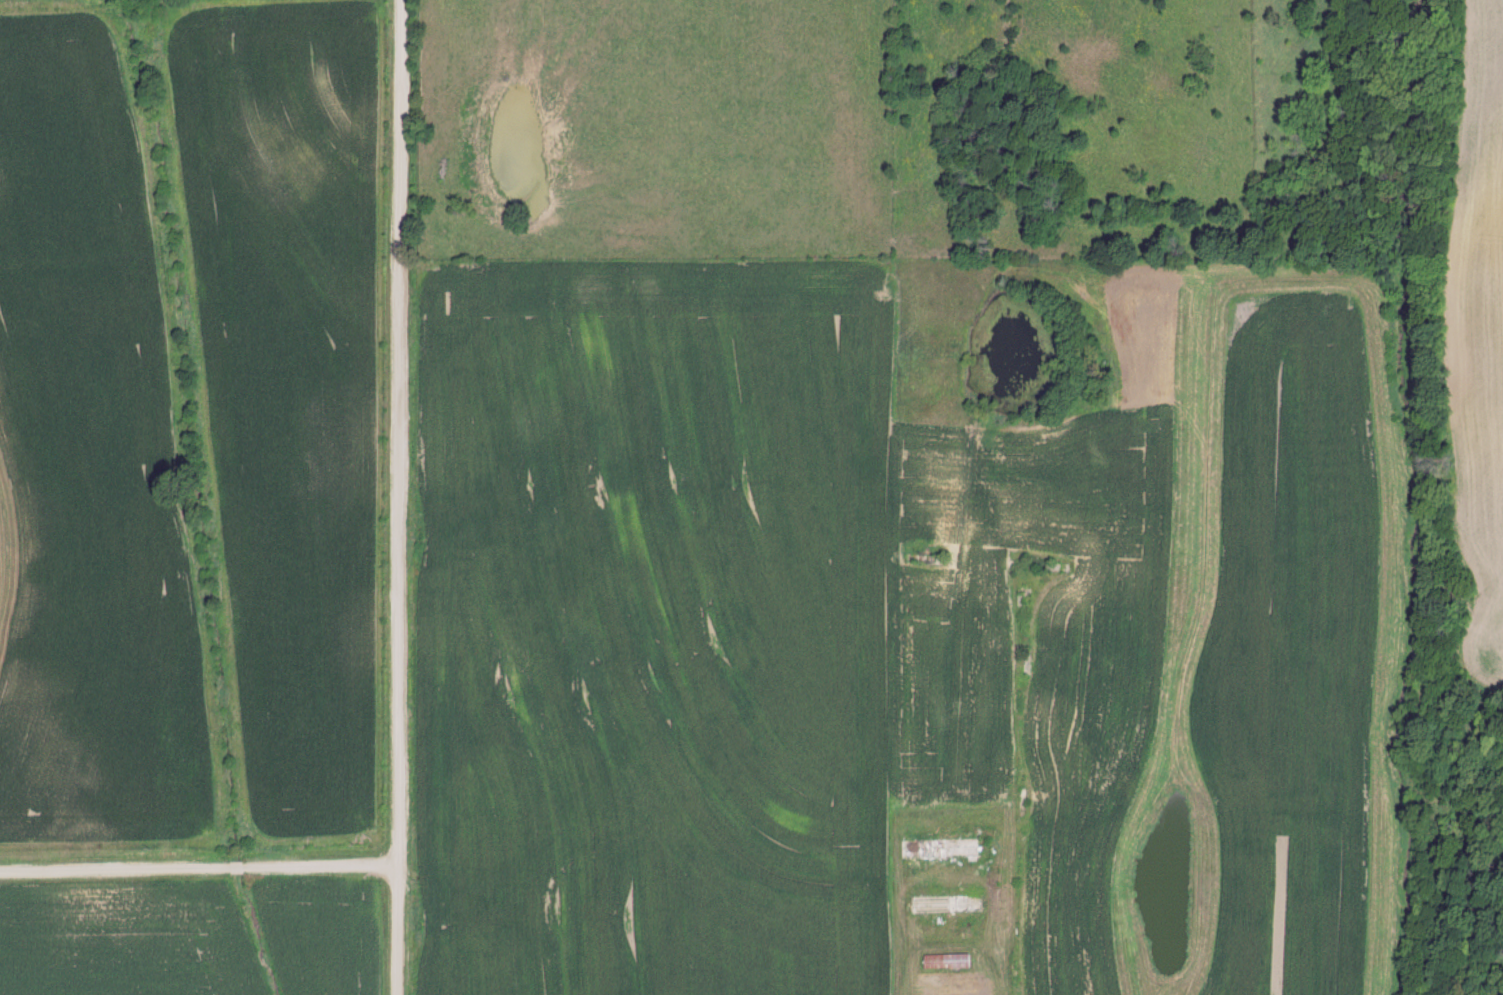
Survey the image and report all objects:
road: (394, 497)
building: (963, 847)
road: (198, 868)
building: (943, 961)

